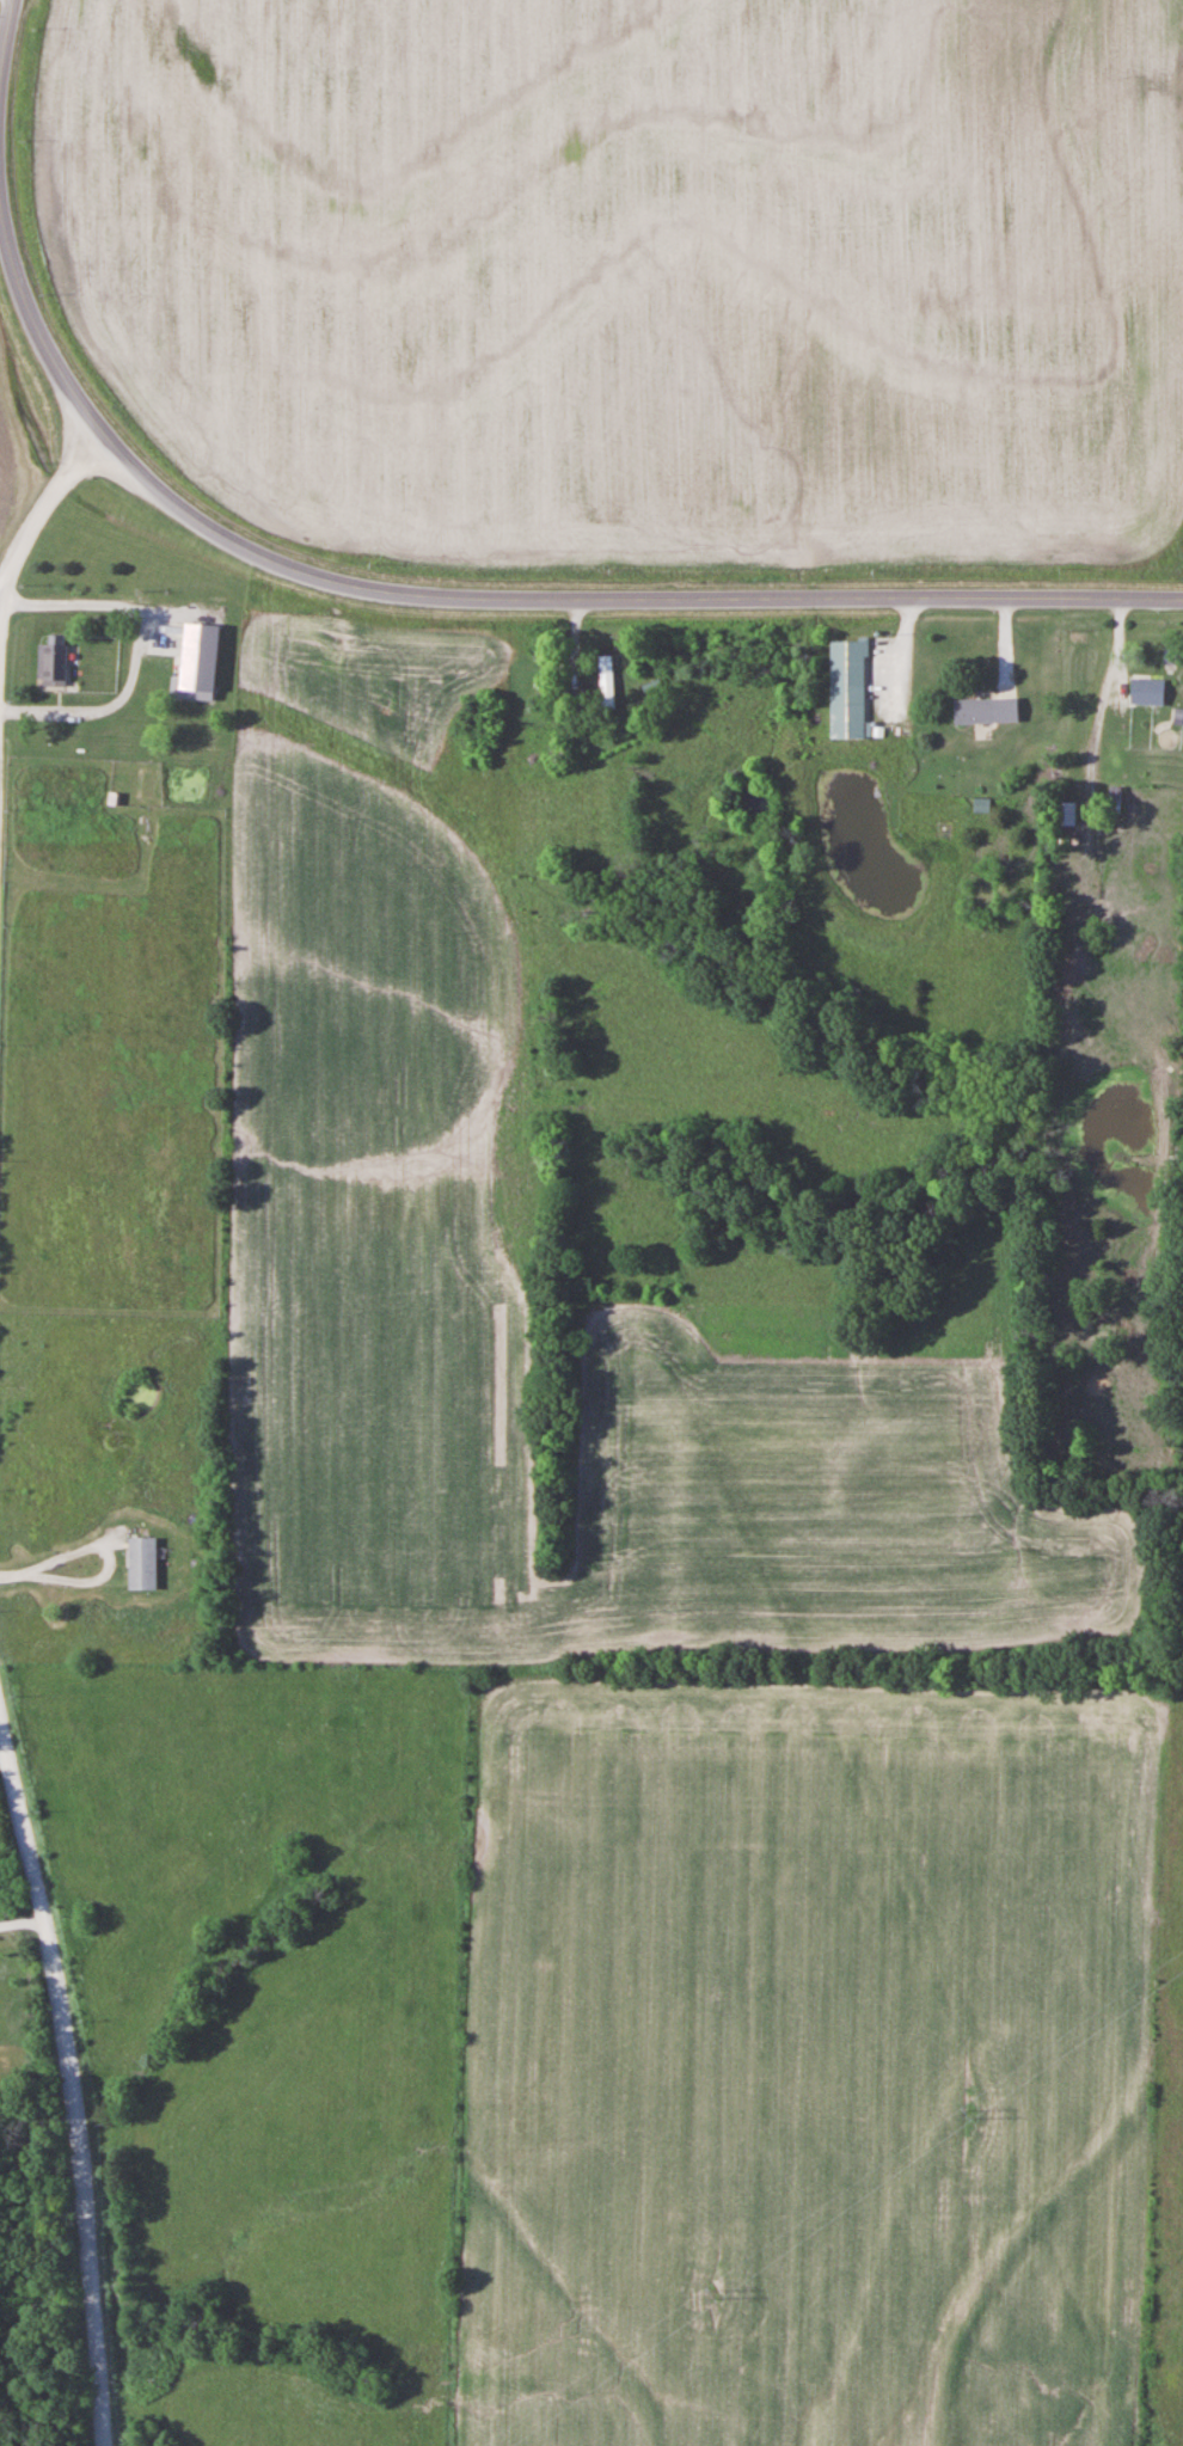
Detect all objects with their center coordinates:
road: (7, 32)
road: (35, 325)
road: (41, 502)
road: (614, 594)
building: (166, 644)
road: (131, 650)
building: (1163, 655)
building: (53, 663)
building: (606, 682)
building: (848, 691)
road: (1101, 695)
building: (987, 711)
building: (1069, 815)
building: (143, 1563)
road: (74, 2074)

